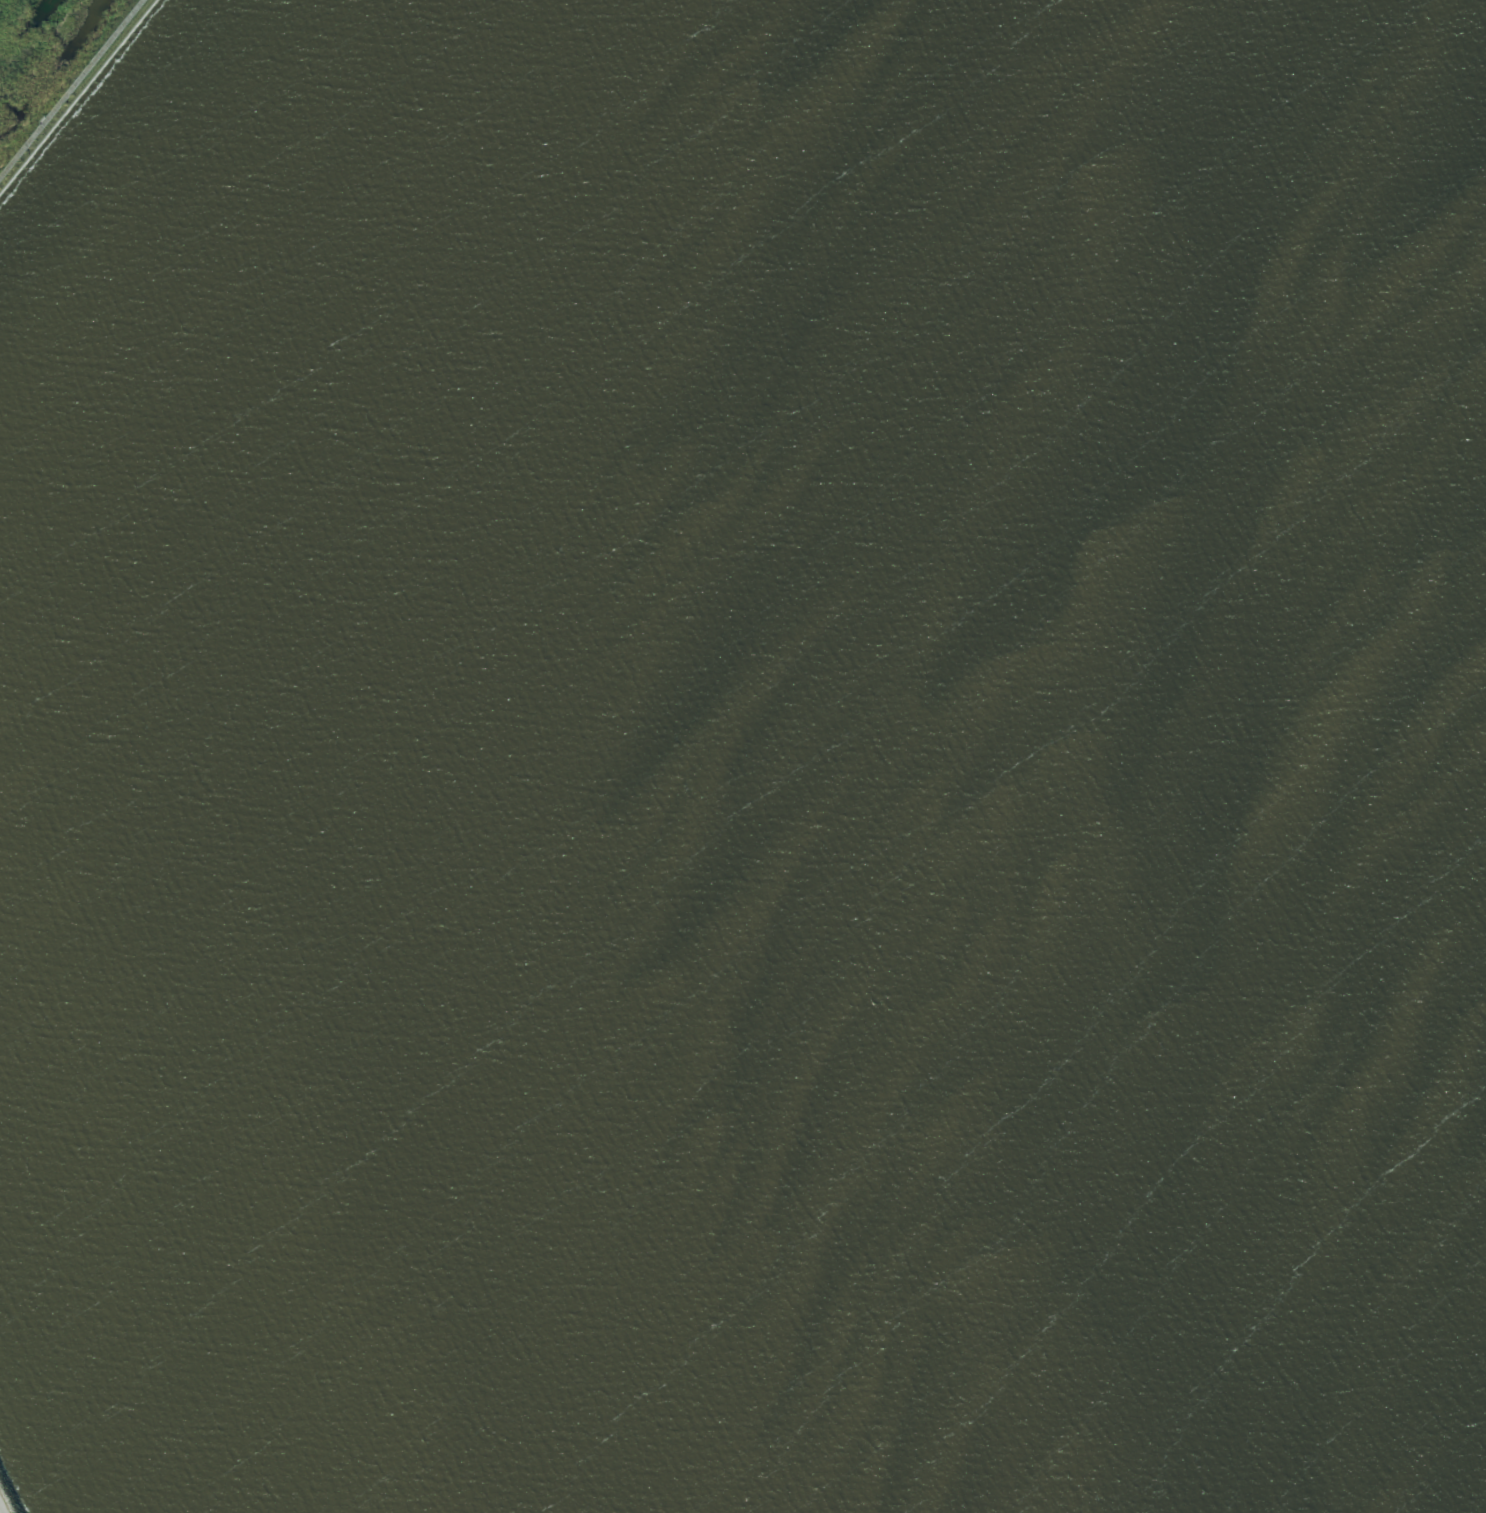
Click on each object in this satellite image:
road: (0, 1511)

